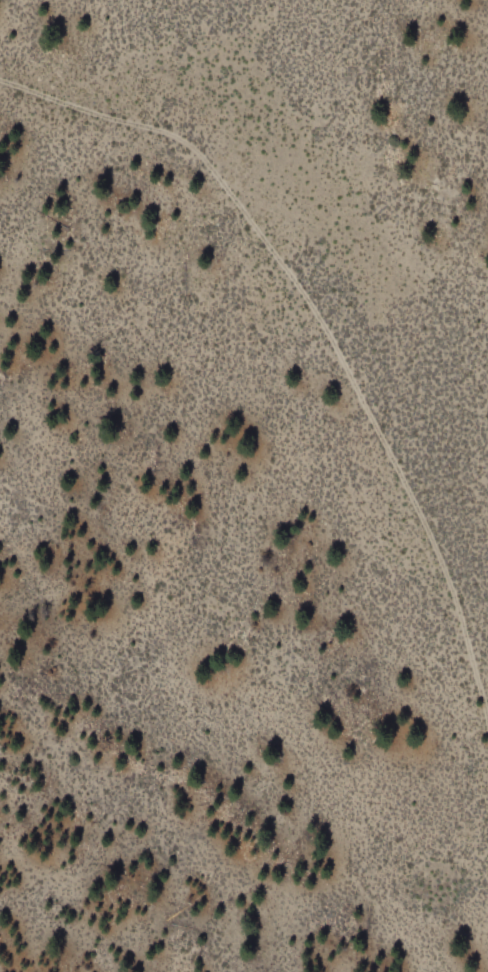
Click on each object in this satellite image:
road: (325, 332)

